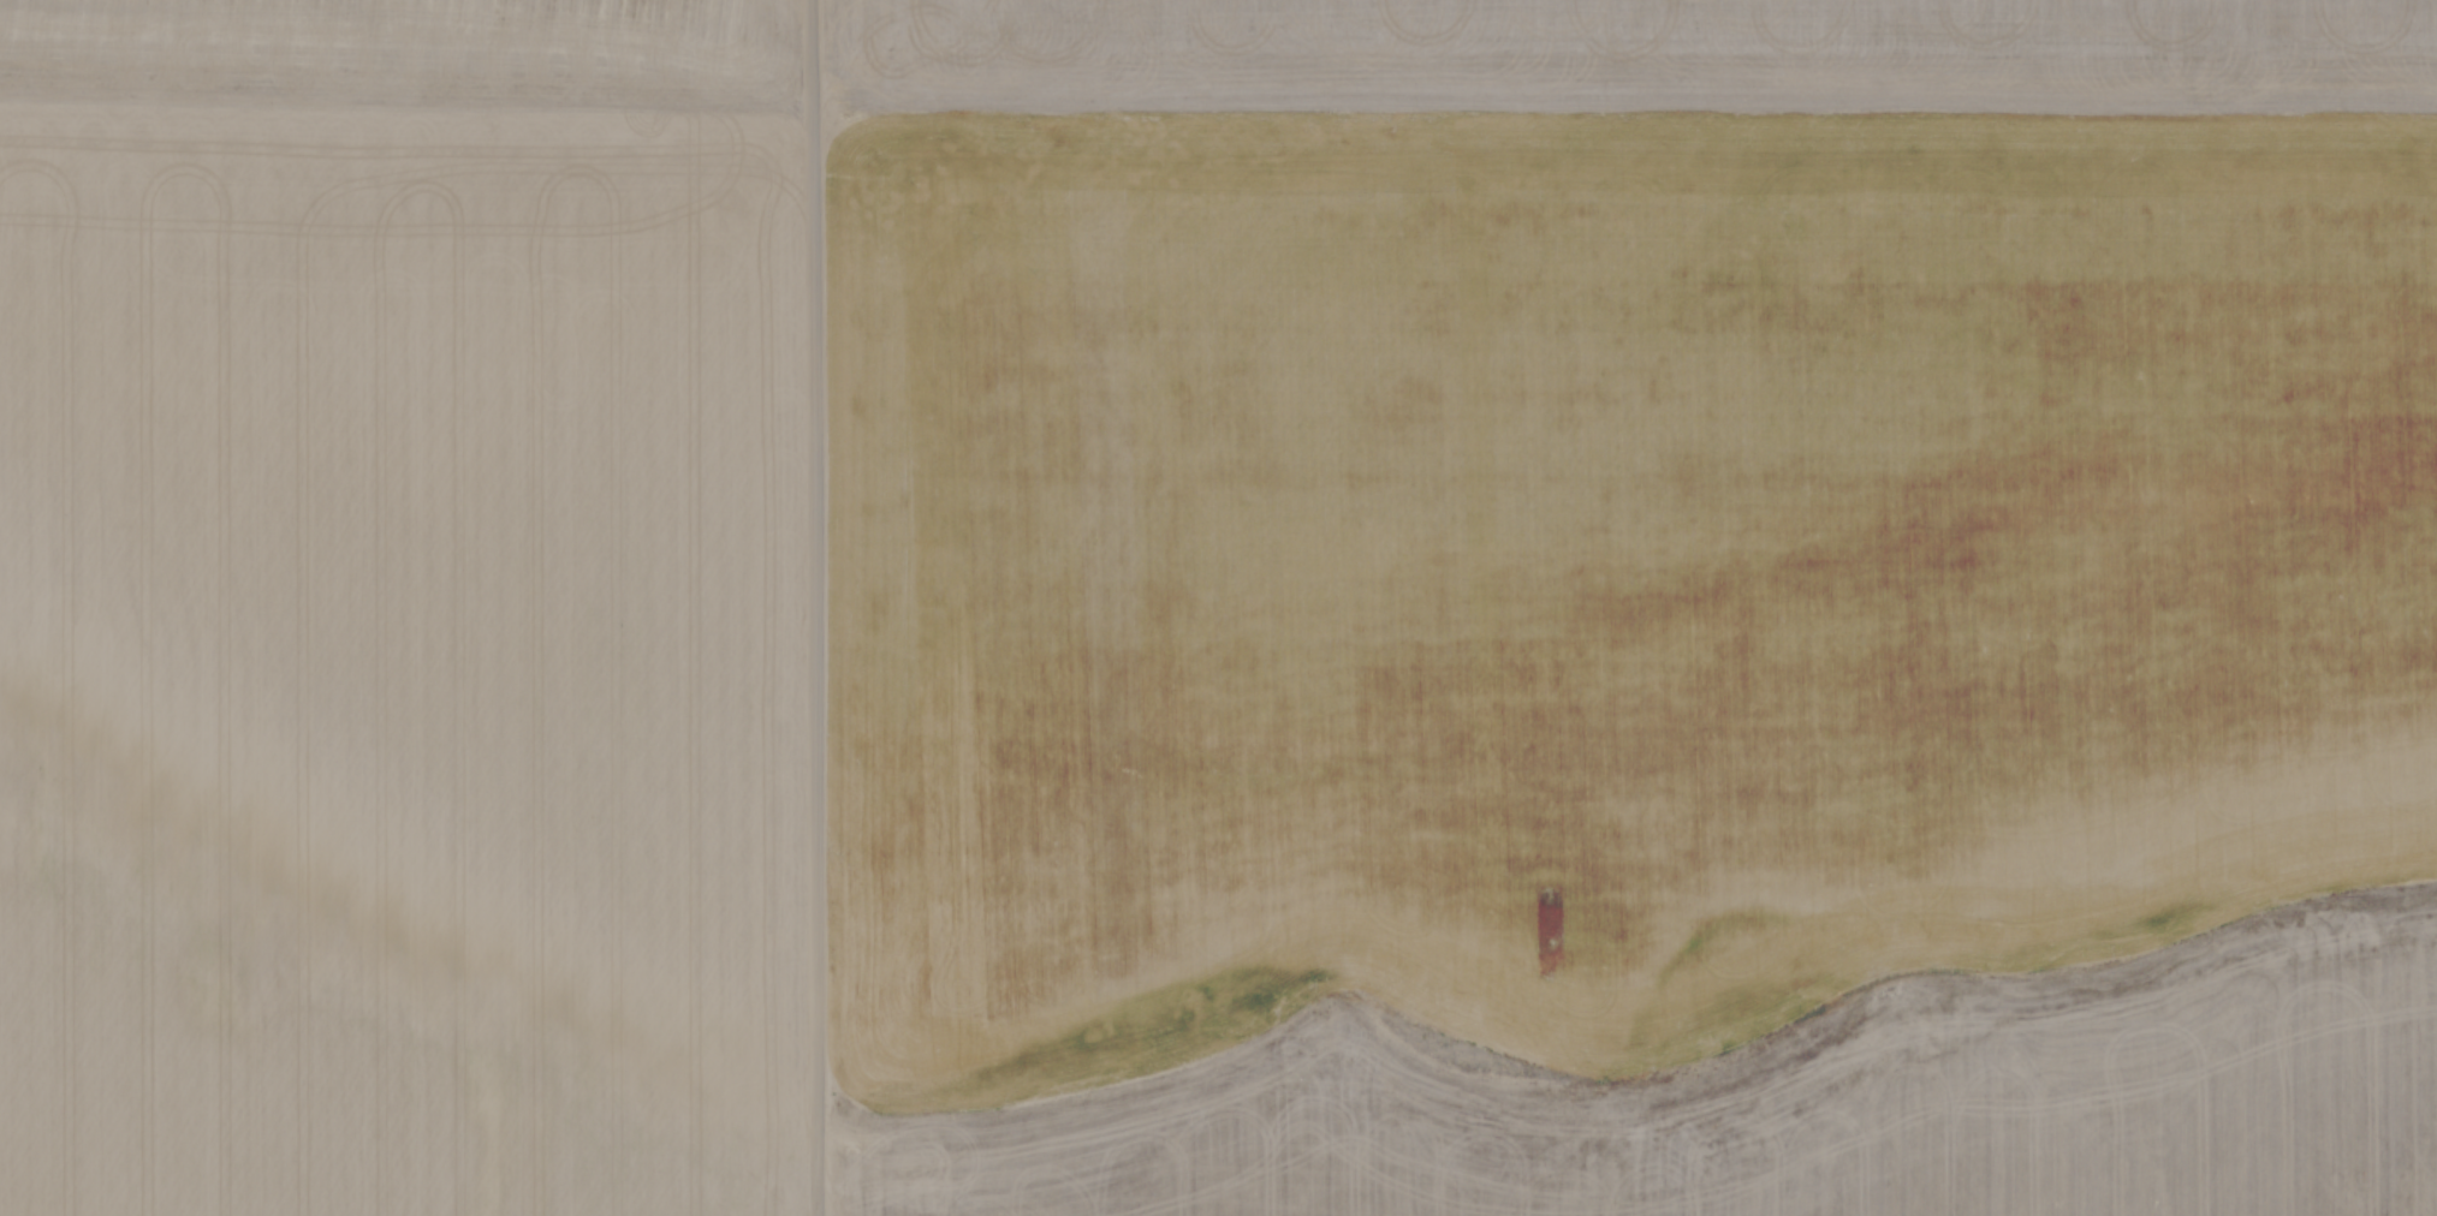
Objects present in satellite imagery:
road: (812, 607)

